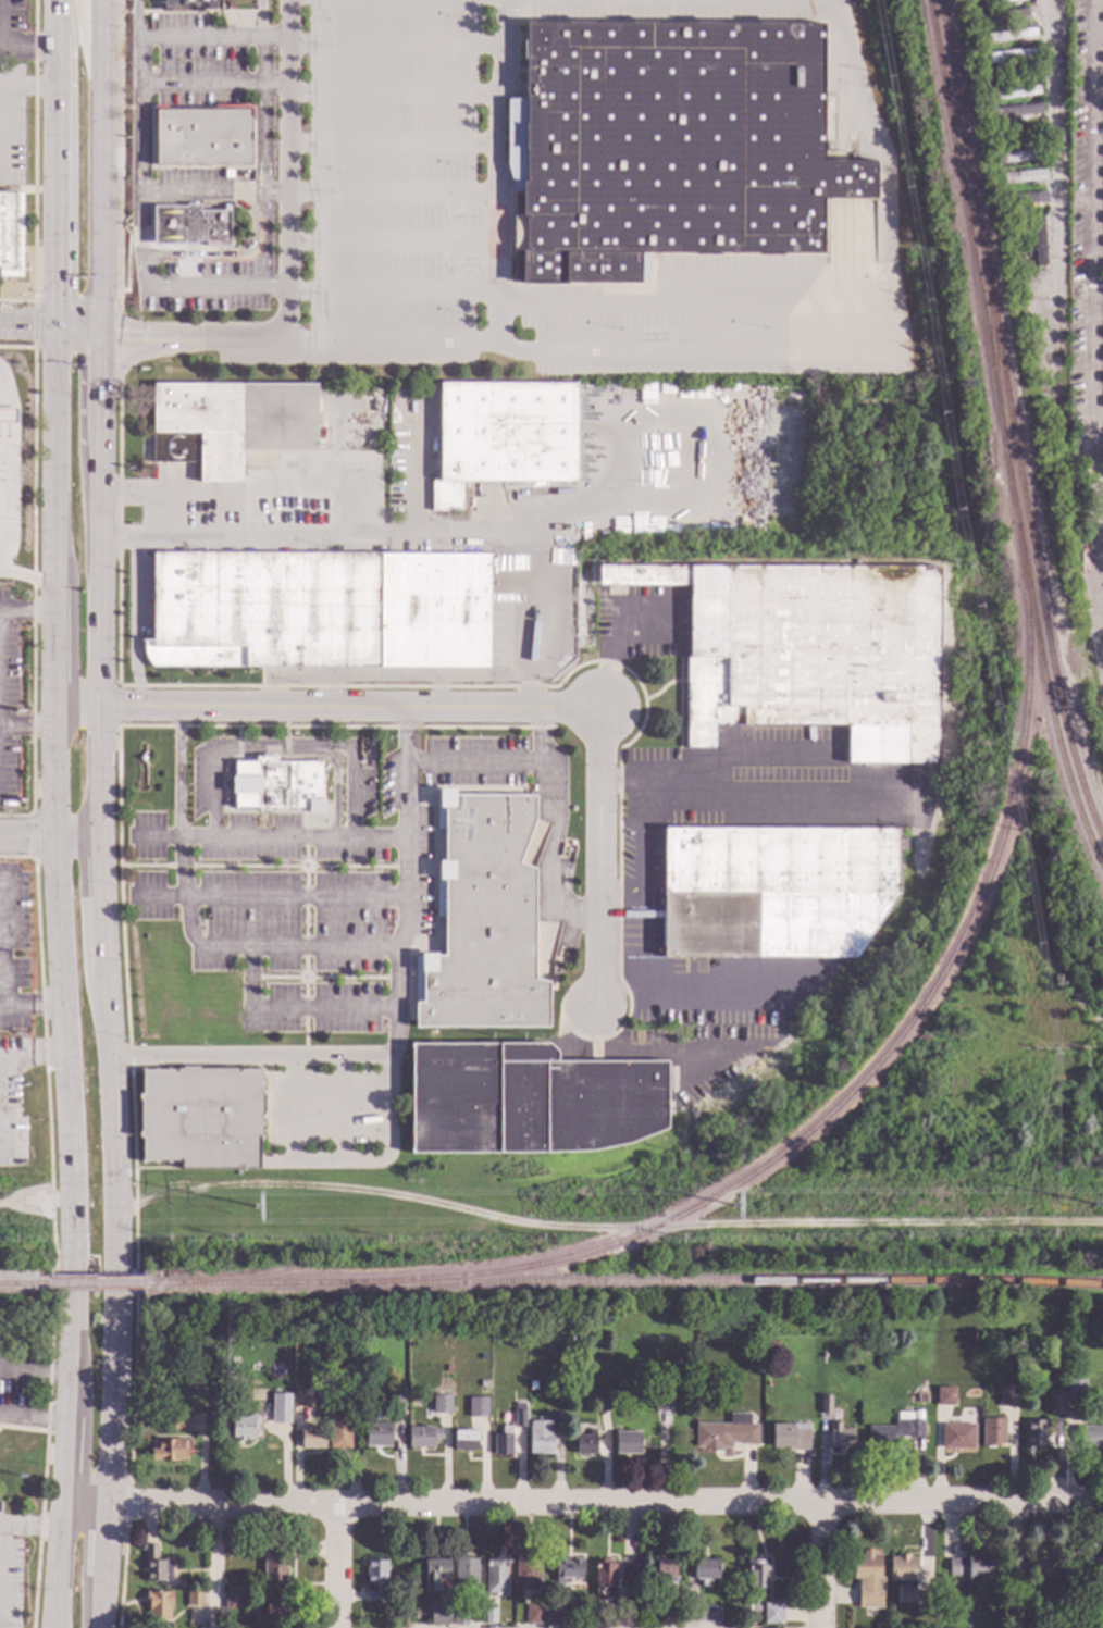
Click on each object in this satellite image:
building: (995, 1)
building: (184, 5)
building: (971, 12)
road: (135, 13)
building: (1002, 17)
road: (135, 18)
road: (260, 20)
road: (57, 24)
road: (0, 25)
building: (1012, 36)
building: (976, 38)
road: (1099, 40)
road: (395, 45)
road: (27, 49)
road: (84, 53)
building: (1013, 55)
building: (983, 59)
road: (213, 85)
building: (1017, 92)
building: (990, 99)
building: (1102, 102)
road: (140, 108)
building: (1017, 112)
building: (1102, 125)
building: (996, 126)
building: (1021, 131)
building: (202, 137)
building: (669, 146)
road: (34, 150)
building: (1102, 152)
road: (117, 153)
road: (139, 157)
building: (1021, 157)
building: (999, 170)
road: (100, 171)
road: (287, 172)
road: (496, 172)
building: (1024, 176)
road: (262, 178)
road: (54, 187)
road: (275, 195)
building: (1001, 199)
building: (1026, 199)
building: (1024, 220)
building: (189, 226)
building: (10, 235)
road: (264, 241)
building: (1037, 243)
road: (127, 263)
road: (1053, 279)
traffic signals: (54, 294)
road: (581, 300)
road: (75, 303)
road: (34, 324)
road: (27, 326)
road: (1091, 332)
building: (1102, 333)
road: (77, 334)
railway: (989, 341)
traffic signals: (124, 343)
road: (193, 343)
road: (117, 346)
road: (834, 352)
building: (1102, 378)
traffic signals: (100, 393)
road: (100, 399)
building: (7, 415)
road: (1096, 420)
building: (230, 423)
railway: (1008, 424)
building: (503, 436)
railway: (1000, 438)
road: (16, 458)
road: (333, 459)
road: (54, 468)
road: (416, 469)
road: (332, 473)
road: (367, 510)
road: (781, 524)
road: (117, 534)
road: (27, 570)
road: (100, 583)
road: (629, 602)
road: (26, 610)
building: (321, 610)
road: (530, 620)
road: (133, 622)
building: (810, 653)
road: (54, 659)
road: (285, 675)
road: (384, 675)
road: (116, 707)
road: (77, 709)
road: (119, 709)
road: (158, 709)
road: (393, 709)
road: (54, 719)
road: (27, 729)
road: (344, 748)
road: (753, 757)
road: (211, 766)
road: (503, 767)
road: (177, 773)
road: (34, 774)
road: (100, 774)
building: (277, 784)
road: (756, 788)
road: (117, 797)
road: (50, 837)
road: (265, 838)
road: (642, 859)
road: (604, 863)
road: (147, 866)
road: (183, 867)
road: (294, 867)
road: (406, 867)
building: (776, 891)
road: (104, 904)
building: (482, 920)
road: (361, 948)
road: (61, 965)
road: (705, 981)
road: (32, 1006)
road: (655, 1053)
road: (305, 1058)
railway: (869, 1069)
road: (0, 1070)
road: (0, 1074)
road: (113, 1088)
building: (528, 1101)
building: (201, 1118)
road: (20, 1193)
road: (63, 1200)
road: (45, 1201)
road: (20, 1203)
road: (1, 1204)
power tower: (731, 1208)
power tower: (1095, 1208)
road: (21, 1210)
power tower: (256, 1210)
road: (607, 1228)
railway: (364, 1255)
road: (75, 1263)
road: (117, 1269)
railway: (624, 1283)
railway: (26, 1285)
railway: (100, 1285)
building: (773, 1343)
building: (336, 1364)
building: (233, 1366)
building: (447, 1368)
building: (232, 1377)
building: (339, 1383)
building: (482, 1383)
building: (214, 1388)
building: (1076, 1389)
building: (1007, 1393)
building: (944, 1396)
building: (302, 1397)
building: (921, 1397)
building: (662, 1401)
building: (395, 1403)
building: (441, 1404)
building: (602, 1404)
building: (825, 1404)
building: (1056, 1405)
building: (476, 1407)
building: (280, 1408)
road: (47, 1414)
building: (520, 1415)
road: (113, 1416)
road: (34, 1420)
building: (181, 1421)
building: (243, 1427)
building: (339, 1432)
building: (727, 1432)
building: (894, 1432)
building: (992, 1432)
building: (1033, 1433)
building: (376, 1434)
building: (422, 1437)
building: (790, 1437)
building: (839, 1437)
building: (957, 1437)
building: (1089, 1437)
building: (311, 1438)
building: (540, 1438)
building: (464, 1441)
building: (503, 1442)
building: (586, 1443)
building: (627, 1443)
building: (169, 1451)
road: (65, 1477)
road: (87, 1502)
road: (607, 1505)
road: (4, 1529)
road: (108, 1546)
building: (198, 1550)
building: (156, 1566)
road: (216, 1566)
road: (818, 1566)
building: (1042, 1566)
road: (336, 1567)
building: (274, 1568)
building: (969, 1568)
building: (704, 1569)
building: (435, 1570)
building: (567, 1570)
building: (665, 1570)
building: (1092, 1571)
building: (464, 1573)
building: (628, 1573)
building: (526, 1574)
building: (495, 1575)
building: (757, 1575)
building: (903, 1577)
building: (374, 1579)
building: (604, 1581)
building: (867, 1581)
building: (1013, 1586)
building: (194, 1598)
building: (233, 1603)
building: (158, 1605)
road: (102, 1608)
building: (273, 1611)
building: (687, 1614)
building: (706, 1614)
building: (771, 1614)
building: (533, 1615)
building: (438, 1616)
building: (459, 1616)
building: (489, 1616)
building: (554, 1616)
building: (666, 1616)
building: (408, 1617)
building: (878, 1626)
building: (988, 1626)
building: (200, 1627)

